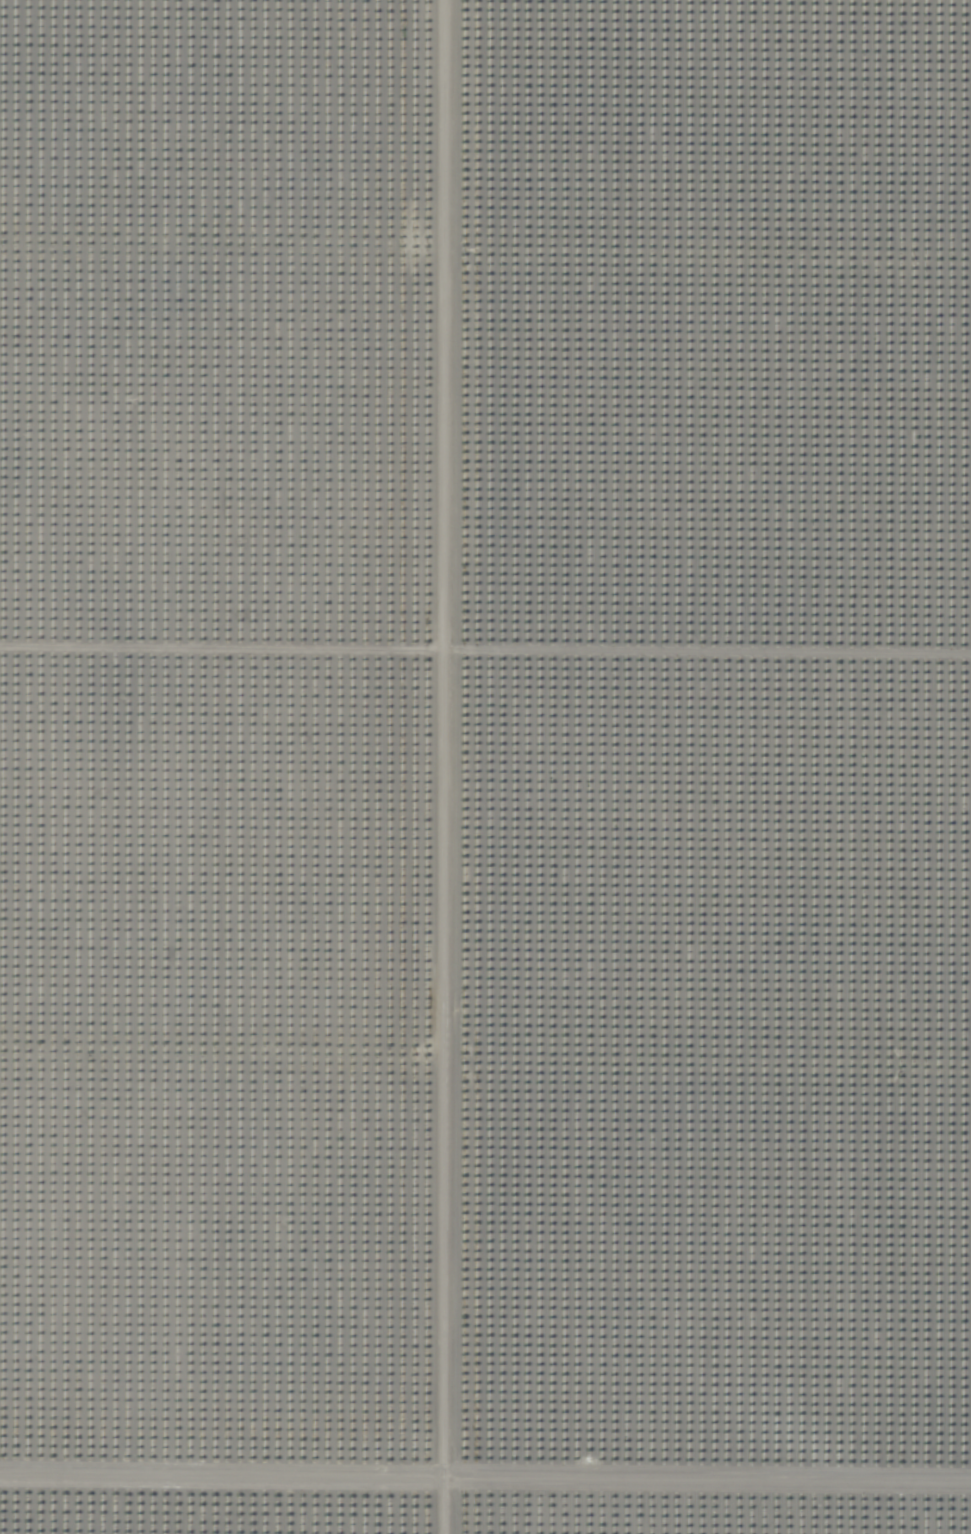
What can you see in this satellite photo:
road: (451, 767)
crop: (485, 767)

